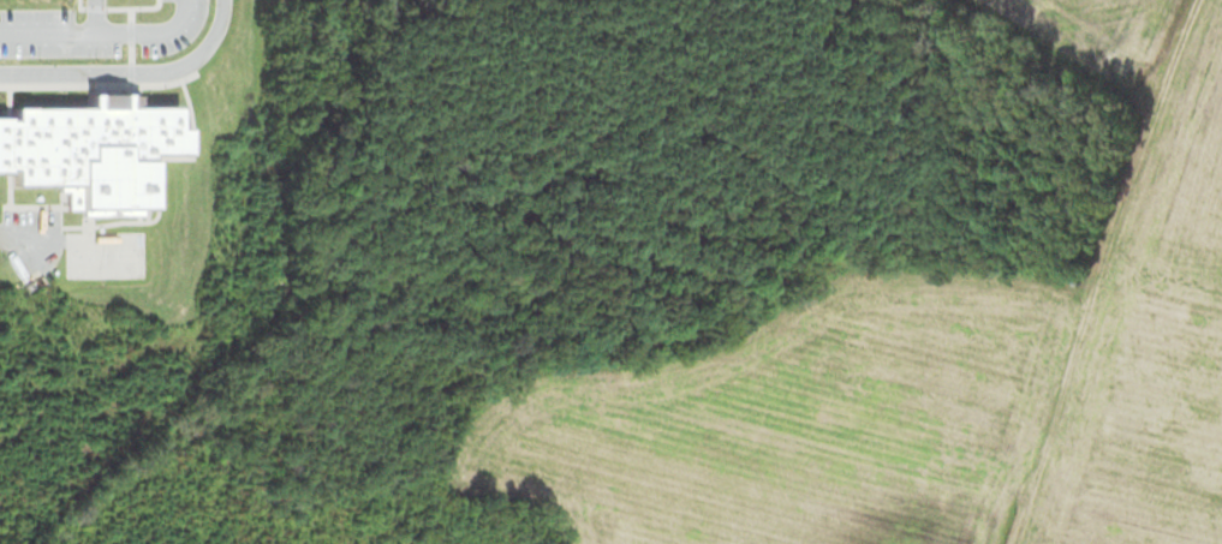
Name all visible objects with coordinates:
road: (1107, 245)

